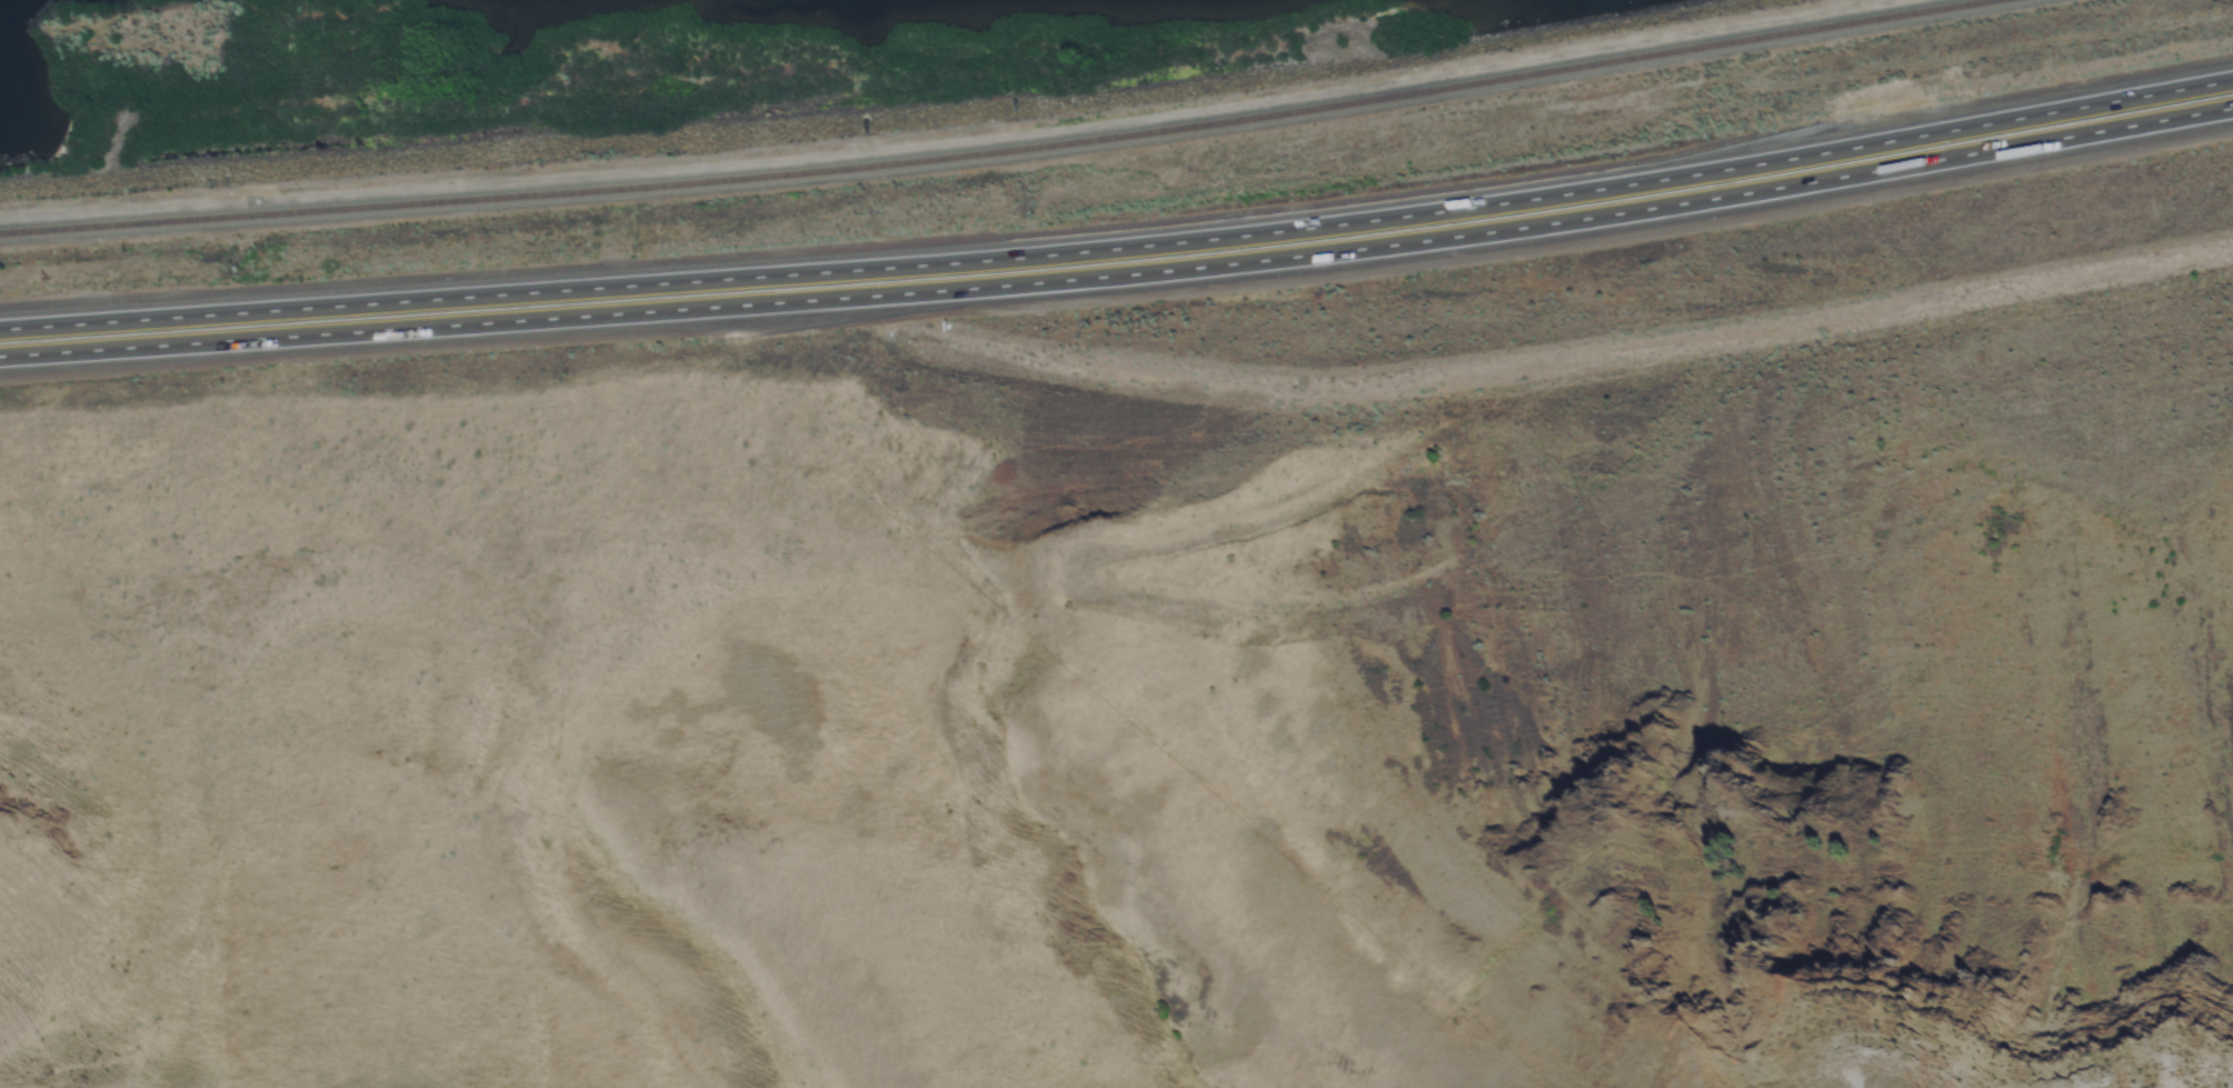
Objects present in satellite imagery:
railway: (1010, 151)
road: (1120, 248)
road: (1119, 273)

